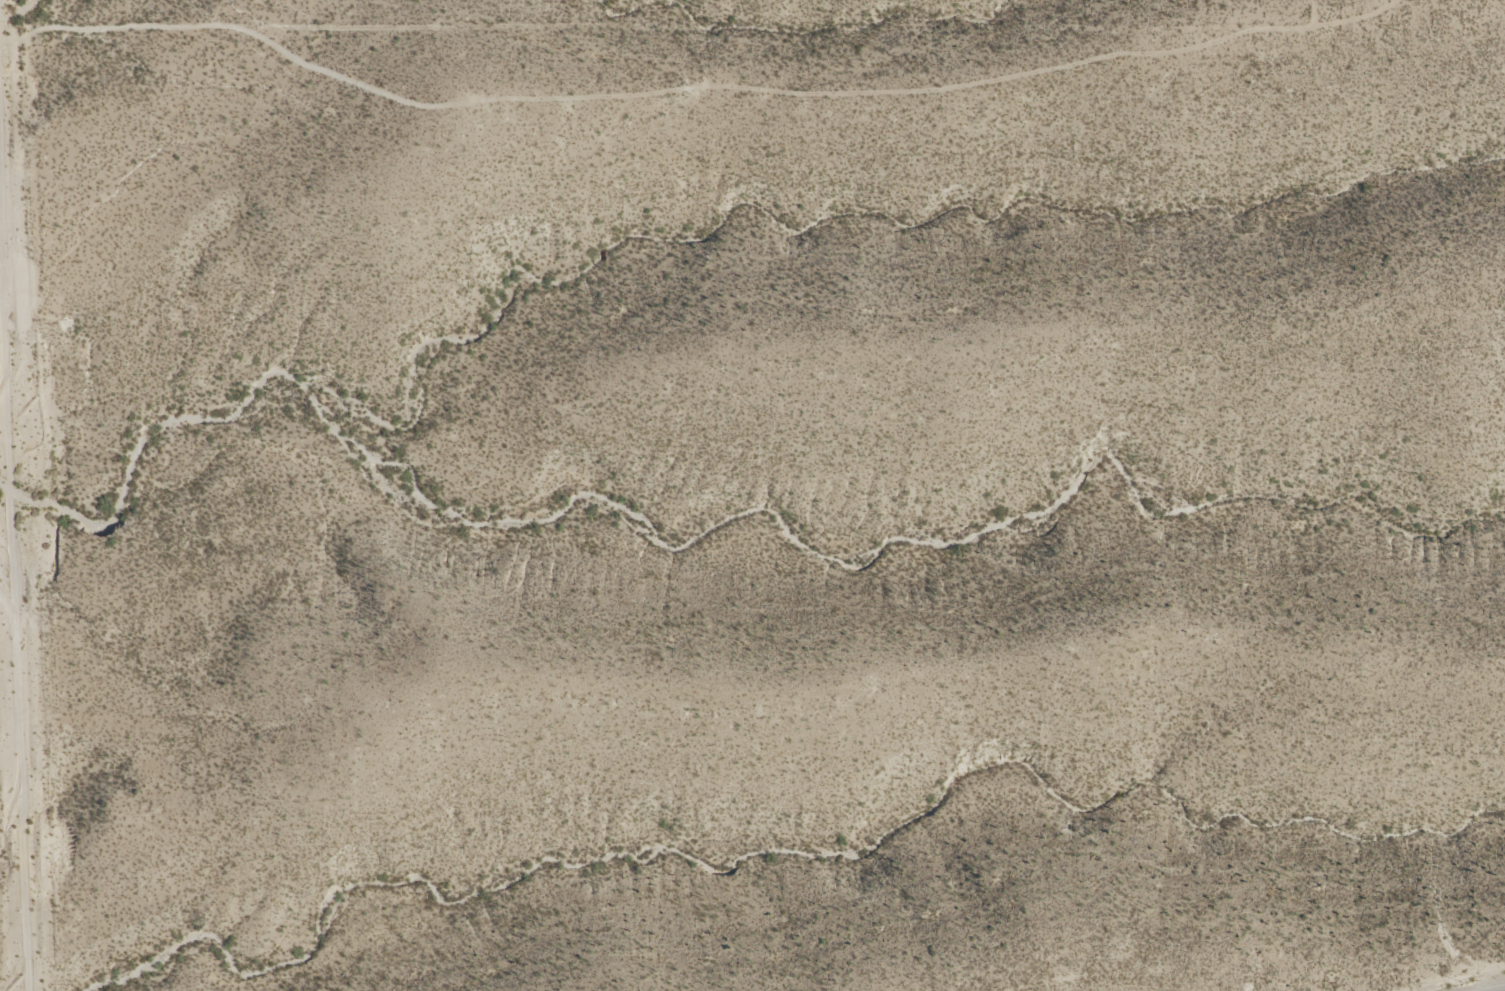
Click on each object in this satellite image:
road: (14, 567)

